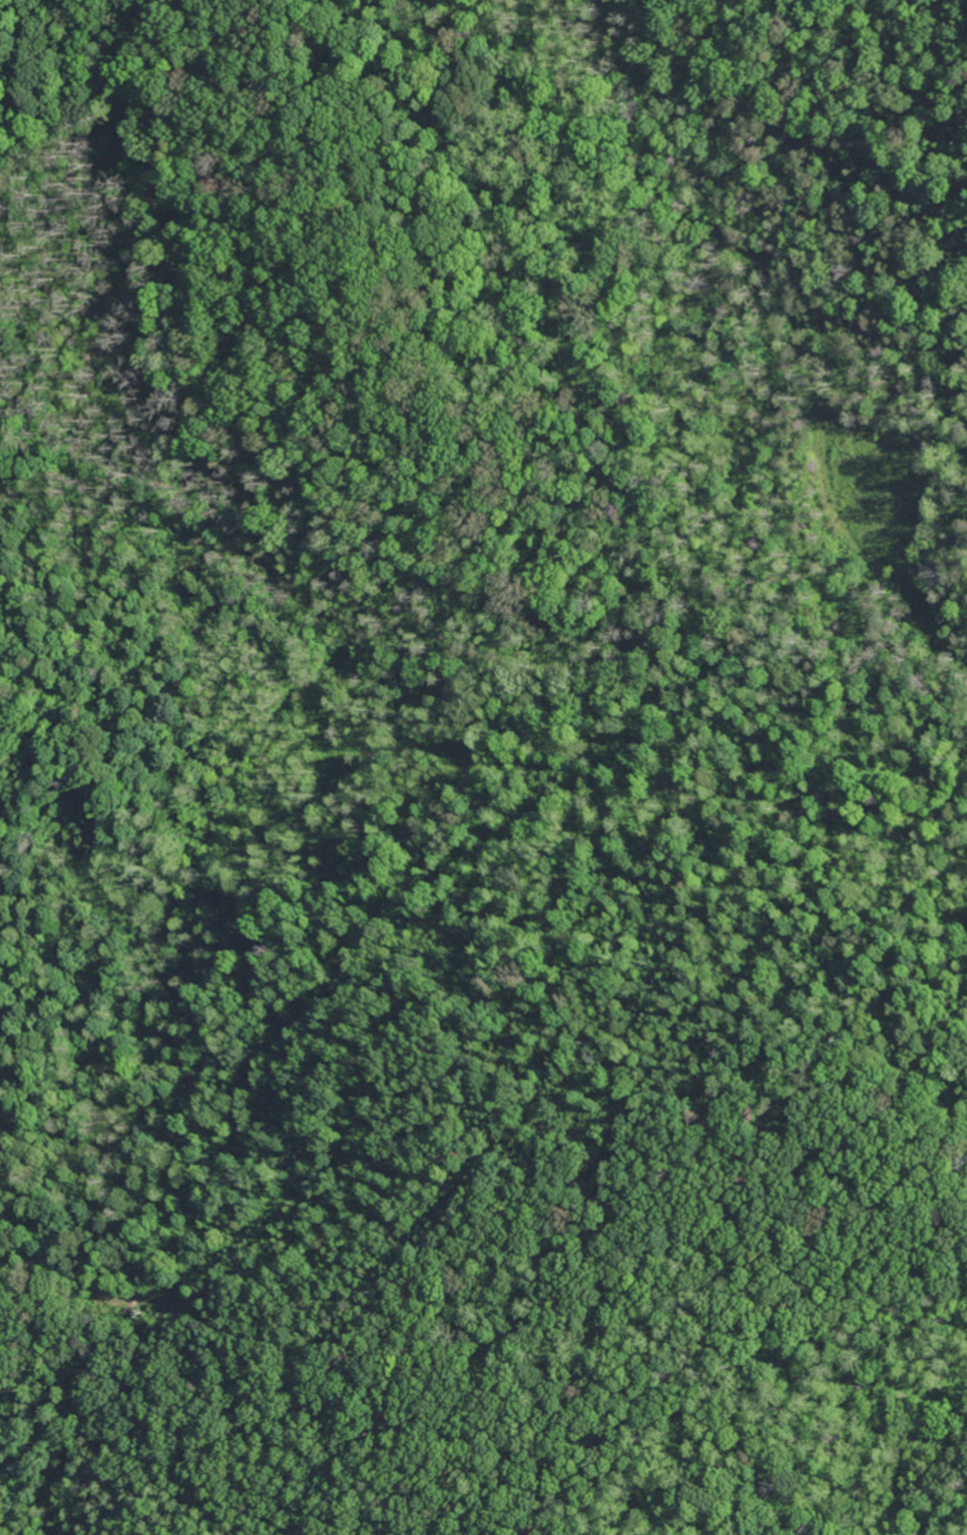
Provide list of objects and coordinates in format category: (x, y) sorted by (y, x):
road: (409, 507)

